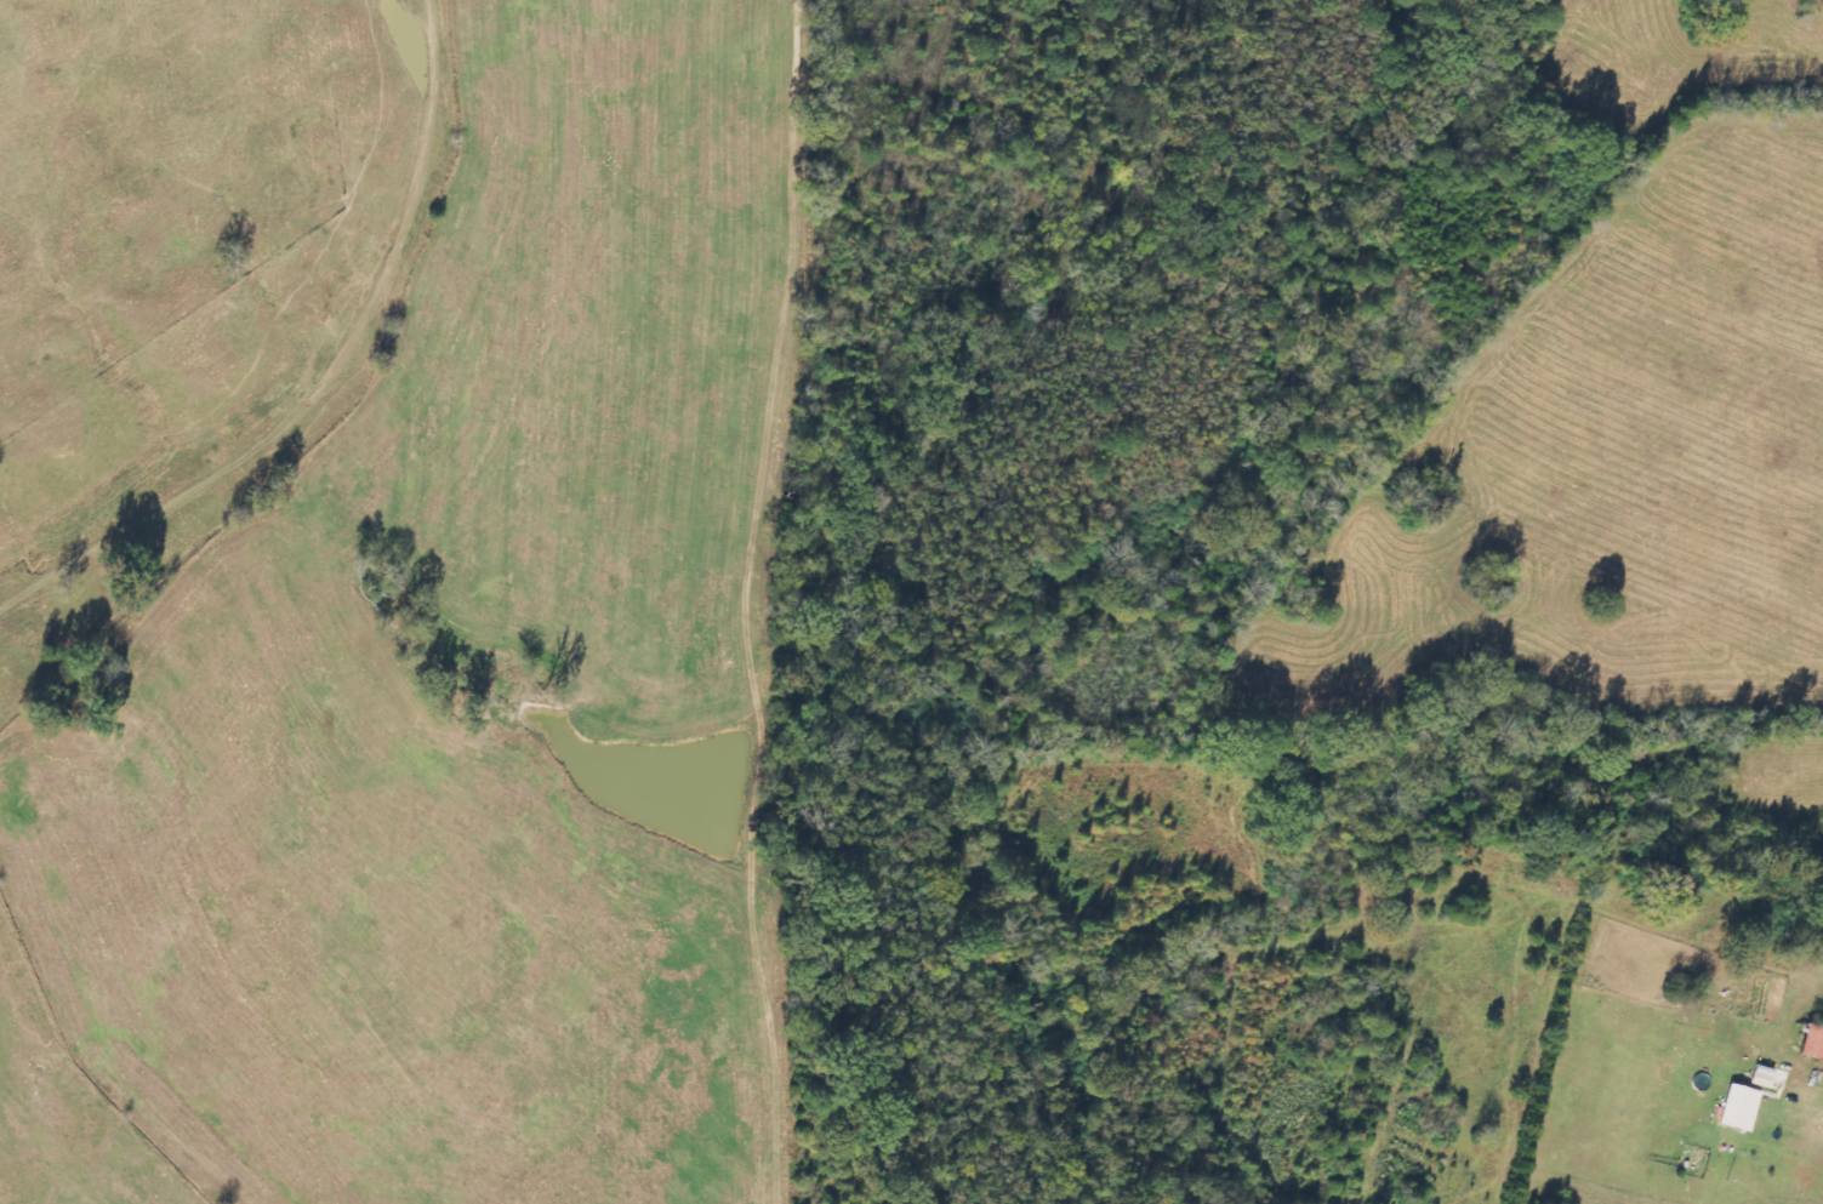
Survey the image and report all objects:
road: (301, 369)
building: (1811, 1040)
building: (1737, 1108)

